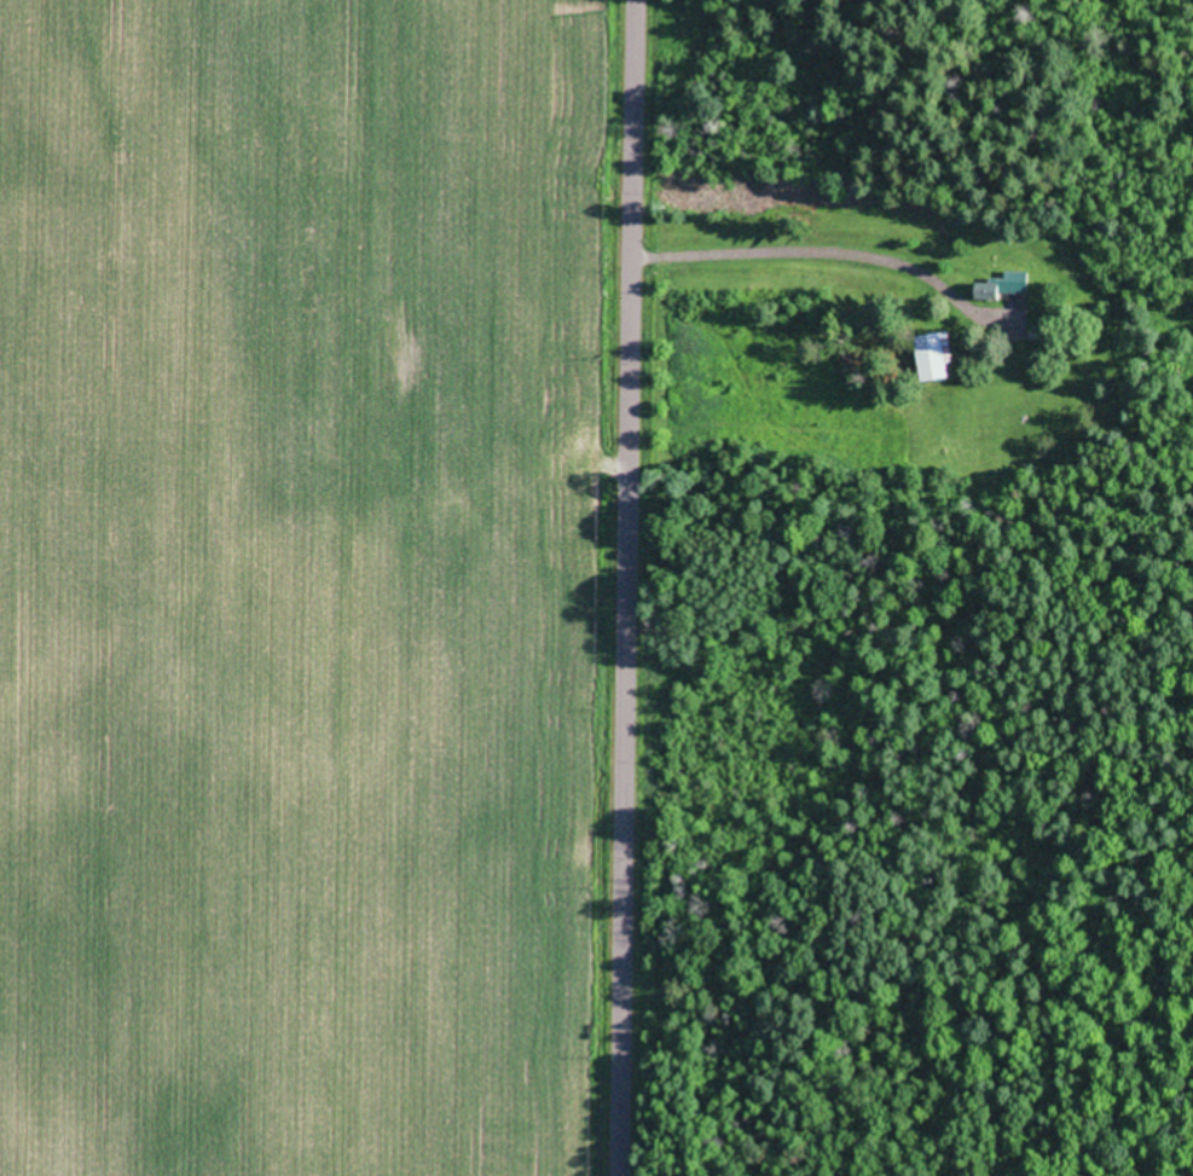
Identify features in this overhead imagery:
building: (1003, 283)
building: (933, 354)
road: (642, 587)

